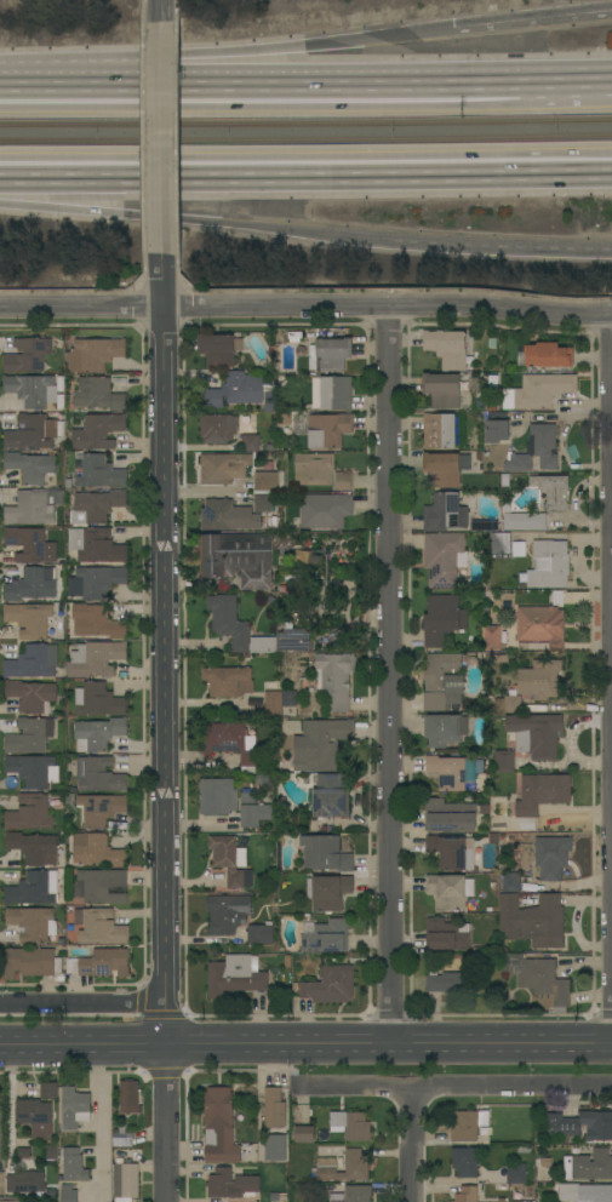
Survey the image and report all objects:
road: (162, 12)
road: (533, 18)
traffic signals: (454, 28)
road: (281, 47)
road: (567, 70)
road: (318, 74)
road: (56, 76)
railway: (305, 124)
railway: (305, 138)
road: (164, 141)
road: (305, 172)
road: (191, 221)
road: (497, 247)
road: (305, 307)
building: (446, 348)
building: (218, 349)
building: (93, 354)
building: (27, 355)
building: (330, 355)
building: (544, 355)
building: (473, 383)
building: (35, 390)
building: (235, 390)
building: (441, 390)
building: (538, 390)
building: (331, 393)
building: (97, 394)
building: (488, 406)
building: (246, 418)
building: (217, 428)
building: (496, 428)
building: (327, 429)
building: (97, 430)
building: (437, 430)
building: (33, 433)
building: (250, 442)
building: (533, 450)
building: (78, 456)
building: (78, 464)
building: (29, 467)
building: (222, 468)
building: (445, 468)
building: (313, 469)
building: (99, 473)
building: (270, 481)
building: (343, 481)
building: (67, 482)
building: (553, 491)
building: (262, 502)
building: (34, 506)
building: (95, 506)
building: (324, 510)
building: (444, 513)
building: (221, 515)
building: (524, 520)
building: (269, 526)
building: (519, 540)
building: (501, 543)
building: (28, 544)
building: (95, 545)
building: (233, 553)
building: (444, 559)
building: (316, 563)
building: (548, 563)
building: (256, 579)
building: (99, 580)
building: (32, 584)
building: (75, 588)
building: (556, 596)
building: (441, 619)
building: (32, 620)
building: (228, 620)
building: (96, 622)
building: (540, 625)
building: (491, 637)
building: (294, 640)
building: (262, 645)
road: (165, 652)
building: (95, 659)
building: (32, 662)
road: (388, 677)
building: (334, 679)
building: (439, 679)
building: (539, 679)
building: (228, 681)
building: (32, 696)
building: (288, 698)
building: (98, 700)
building: (252, 702)
building: (271, 703)
building: (508, 704)
building: (292, 726)
building: (444, 729)
building: (97, 733)
building: (534, 734)
building: (29, 735)
building: (230, 743)
building: (320, 744)
building: (504, 761)
building: (33, 769)
building: (451, 771)
building: (98, 774)
building: (262, 778)
building: (539, 795)
building: (216, 796)
building: (328, 796)
building: (247, 797)
building: (99, 808)
building: (484, 809)
building: (29, 812)
building: (252, 814)
building: (448, 815)
building: (497, 824)
building: (492, 838)
building: (33, 848)
building: (96, 851)
building: (451, 851)
building: (325, 853)
building: (551, 855)
building: (228, 858)
building: (510, 882)
building: (102, 885)
building: (33, 888)
building: (450, 889)
building: (327, 892)
building: (227, 914)
building: (532, 920)
building: (33, 923)
road: (611, 925)
building: (99, 927)
building: (259, 934)
building: (446, 934)
building: (325, 935)
building: (286, 960)
building: (30, 962)
building: (99, 963)
building: (234, 975)
building: (538, 978)
building: (452, 979)
building: (330, 985)
road: (81, 1003)
road: (305, 1048)
road: (457, 1084)
building: (48, 1091)
building: (127, 1097)
building: (74, 1107)
building: (273, 1107)
road: (8, 1109)
building: (36, 1121)
building: (350, 1124)
building: (468, 1124)
road: (101, 1126)
road: (165, 1126)
building: (219, 1126)
building: (562, 1127)
building: (304, 1134)
building: (121, 1137)
building: (0, 1138)
road: (411, 1143)
building: (274, 1147)
building: (23, 1152)
building: (464, 1162)
building: (589, 1164)
building: (73, 1166)
building: (344, 1167)
building: (516, 1173)
building: (125, 1180)
building: (25, 1181)
building: (229, 1184)
building: (349, 1192)
building: (582, 1192)
building: (68, 1194)
building: (467, 1195)
building: (502, 1200)
building: (8, 1201)

